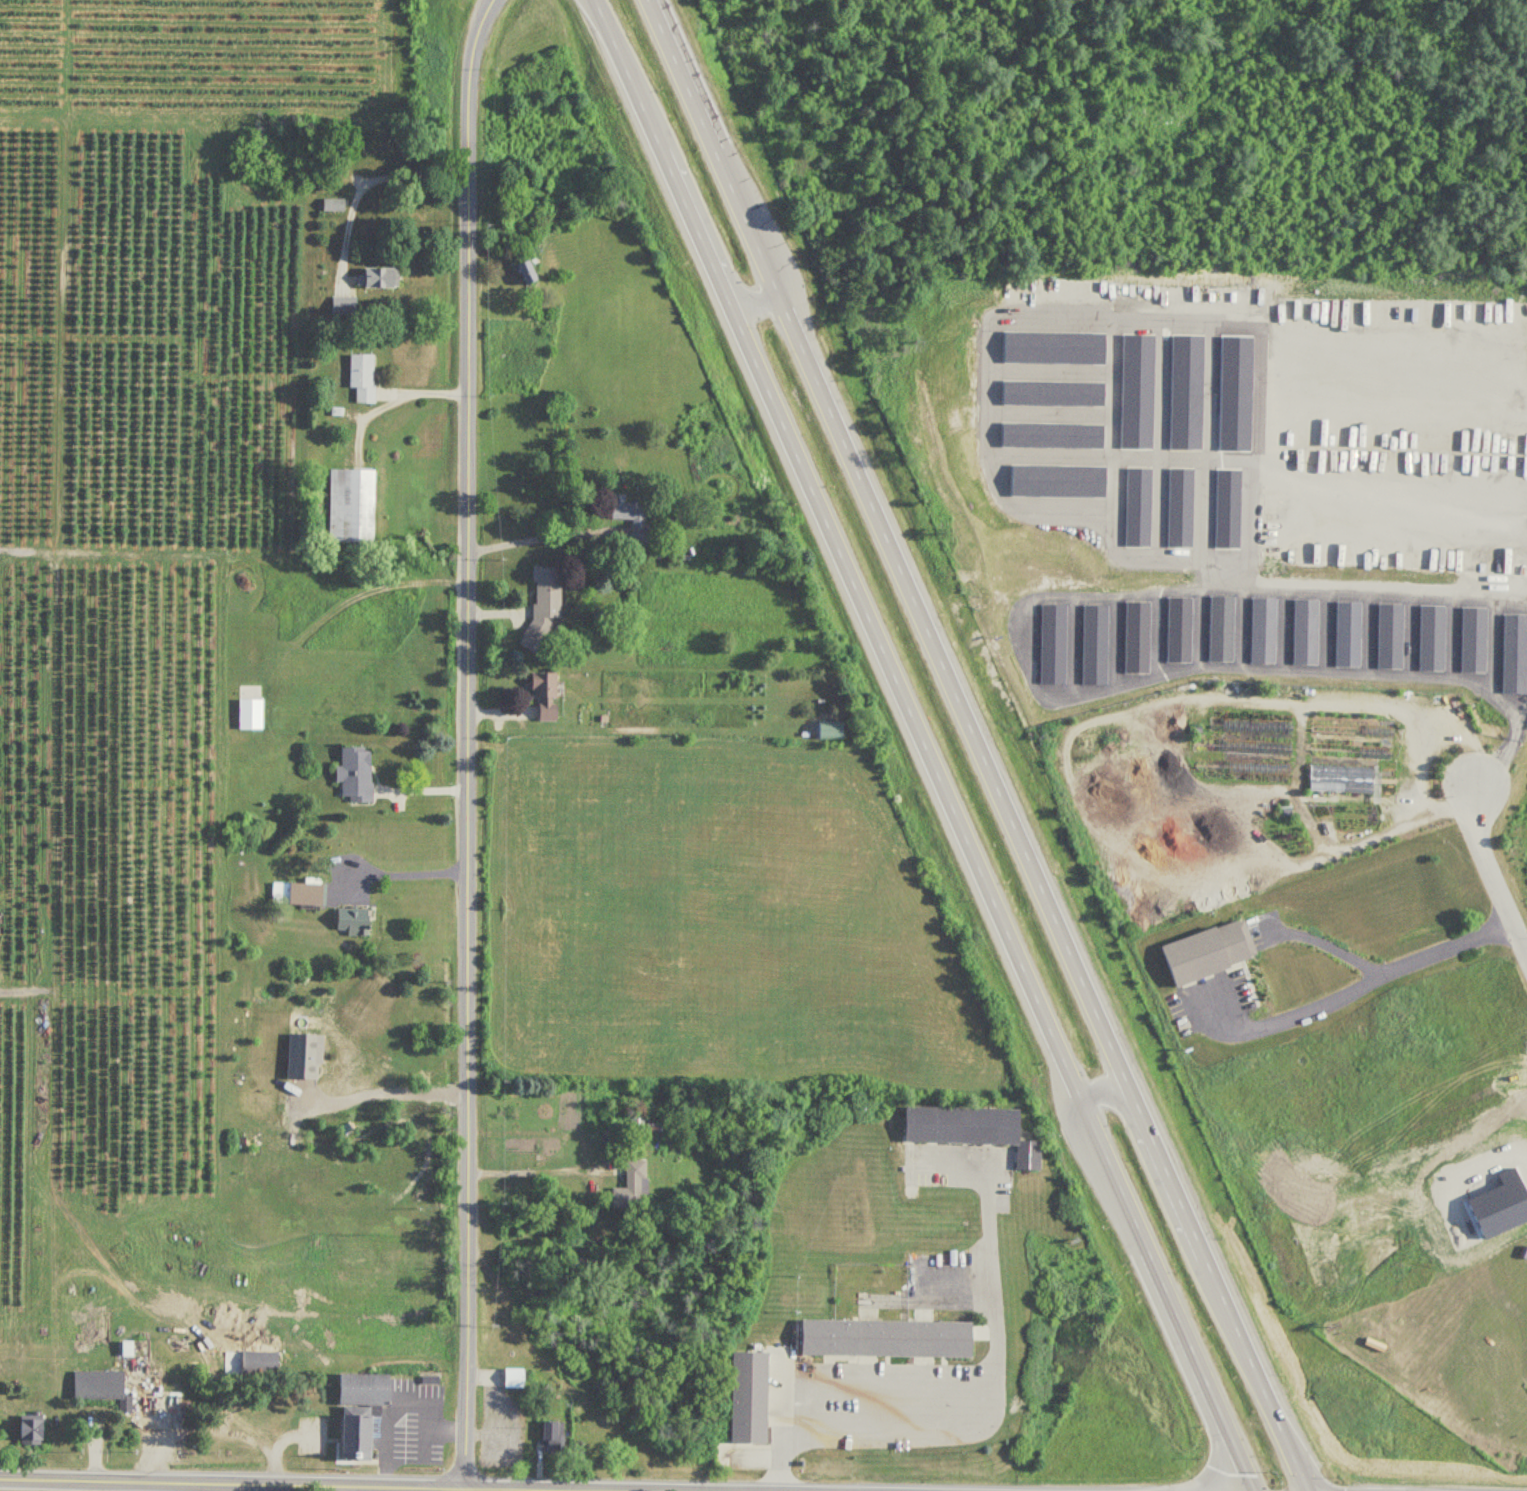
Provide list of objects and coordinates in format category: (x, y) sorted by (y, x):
road: (376, 179)
building: (334, 205)
building: (529, 273)
building: (382, 278)
road: (744, 301)
road: (1030, 312)
building: (363, 377)
road: (398, 398)
building: (352, 506)
building: (631, 517)
road: (540, 538)
road: (838, 554)
road: (893, 558)
road: (1389, 587)
building: (544, 606)
building: (1217, 628)
building: (1175, 630)
building: (1259, 630)
building: (1301, 632)
building: (1342, 635)
building: (1134, 637)
building: (1049, 644)
building: (1091, 645)
building: (547, 696)
building: (251, 713)
building: (1255, 727)
building: (832, 733)
road: (466, 742)
building: (1254, 748)
road: (1506, 750)
building: (1341, 752)
road: (1415, 752)
building: (1255, 770)
building: (356, 775)
building: (1339, 779)
road: (1492, 869)
road: (402, 871)
building: (299, 895)
building: (355, 922)
road: (1326, 943)
building: (1203, 952)
road: (1354, 988)
road: (388, 1093)
road: (1113, 1093)
building: (656, 1125)
building: (639, 1126)
building: (975, 1127)
building: (633, 1188)
road: (1168, 1299)
road: (1225, 1304)
building: (886, 1335)
building: (258, 1362)
road: (972, 1372)
building: (514, 1378)
building: (102, 1387)
building: (371, 1387)
building: (751, 1396)
road: (400, 1404)
building: (33, 1431)
road: (908, 1431)
building: (364, 1435)
building: (554, 1436)
road: (283, 1443)
building: (498, 1446)
road: (272, 1484)
road: (119, 1486)
road: (508, 1490)

